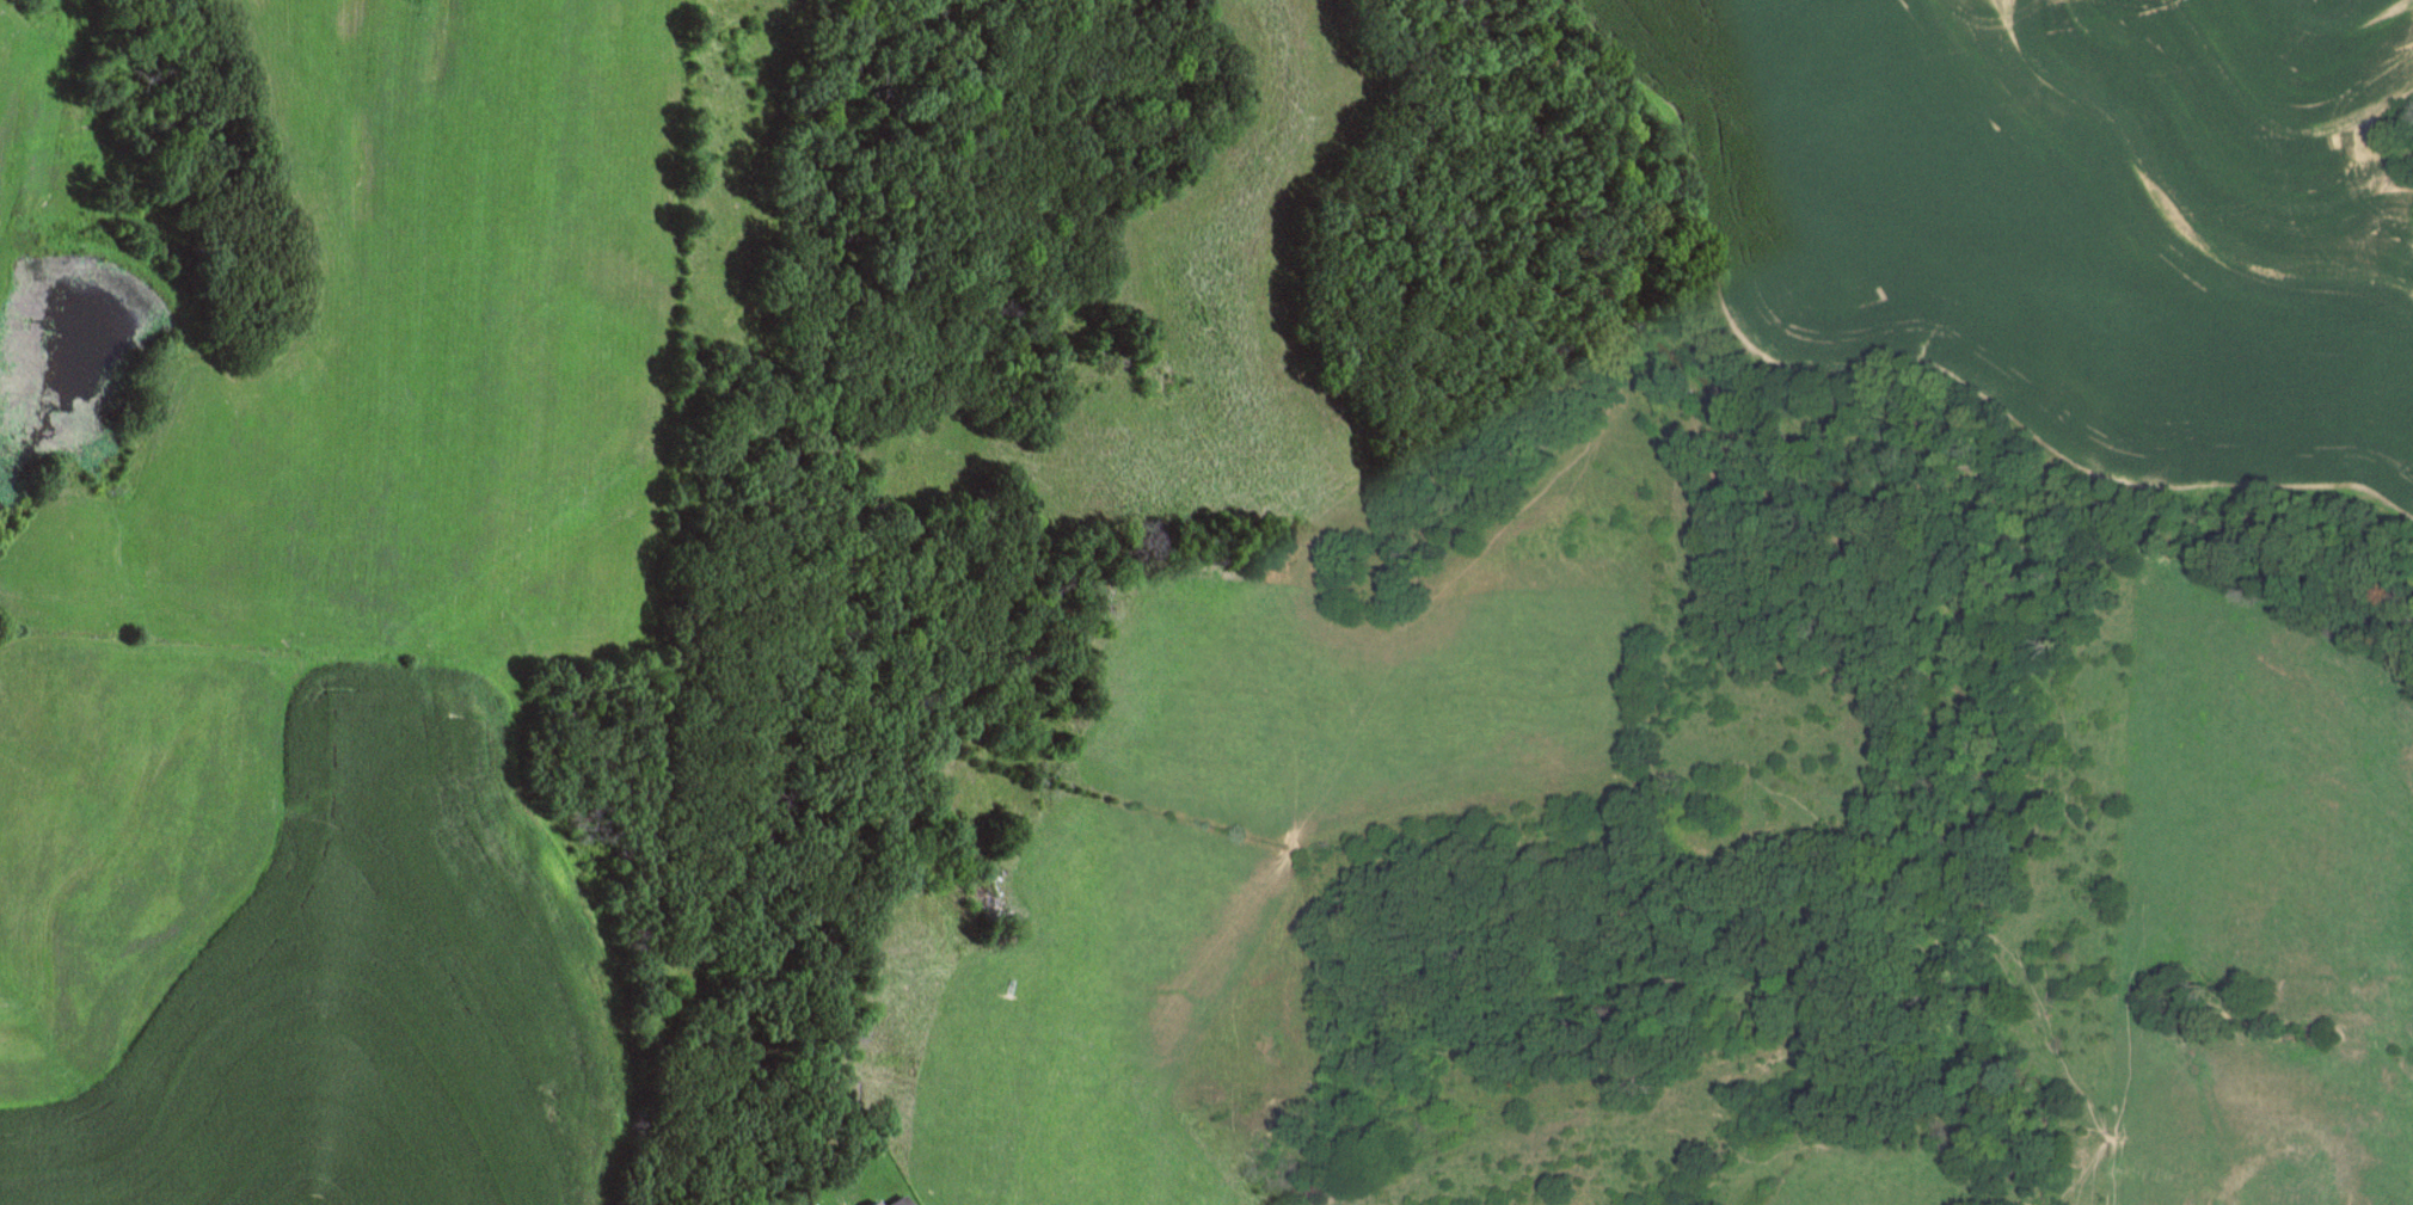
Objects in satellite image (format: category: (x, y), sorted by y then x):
building: (1313, 1191)
building: (905, 1203)

